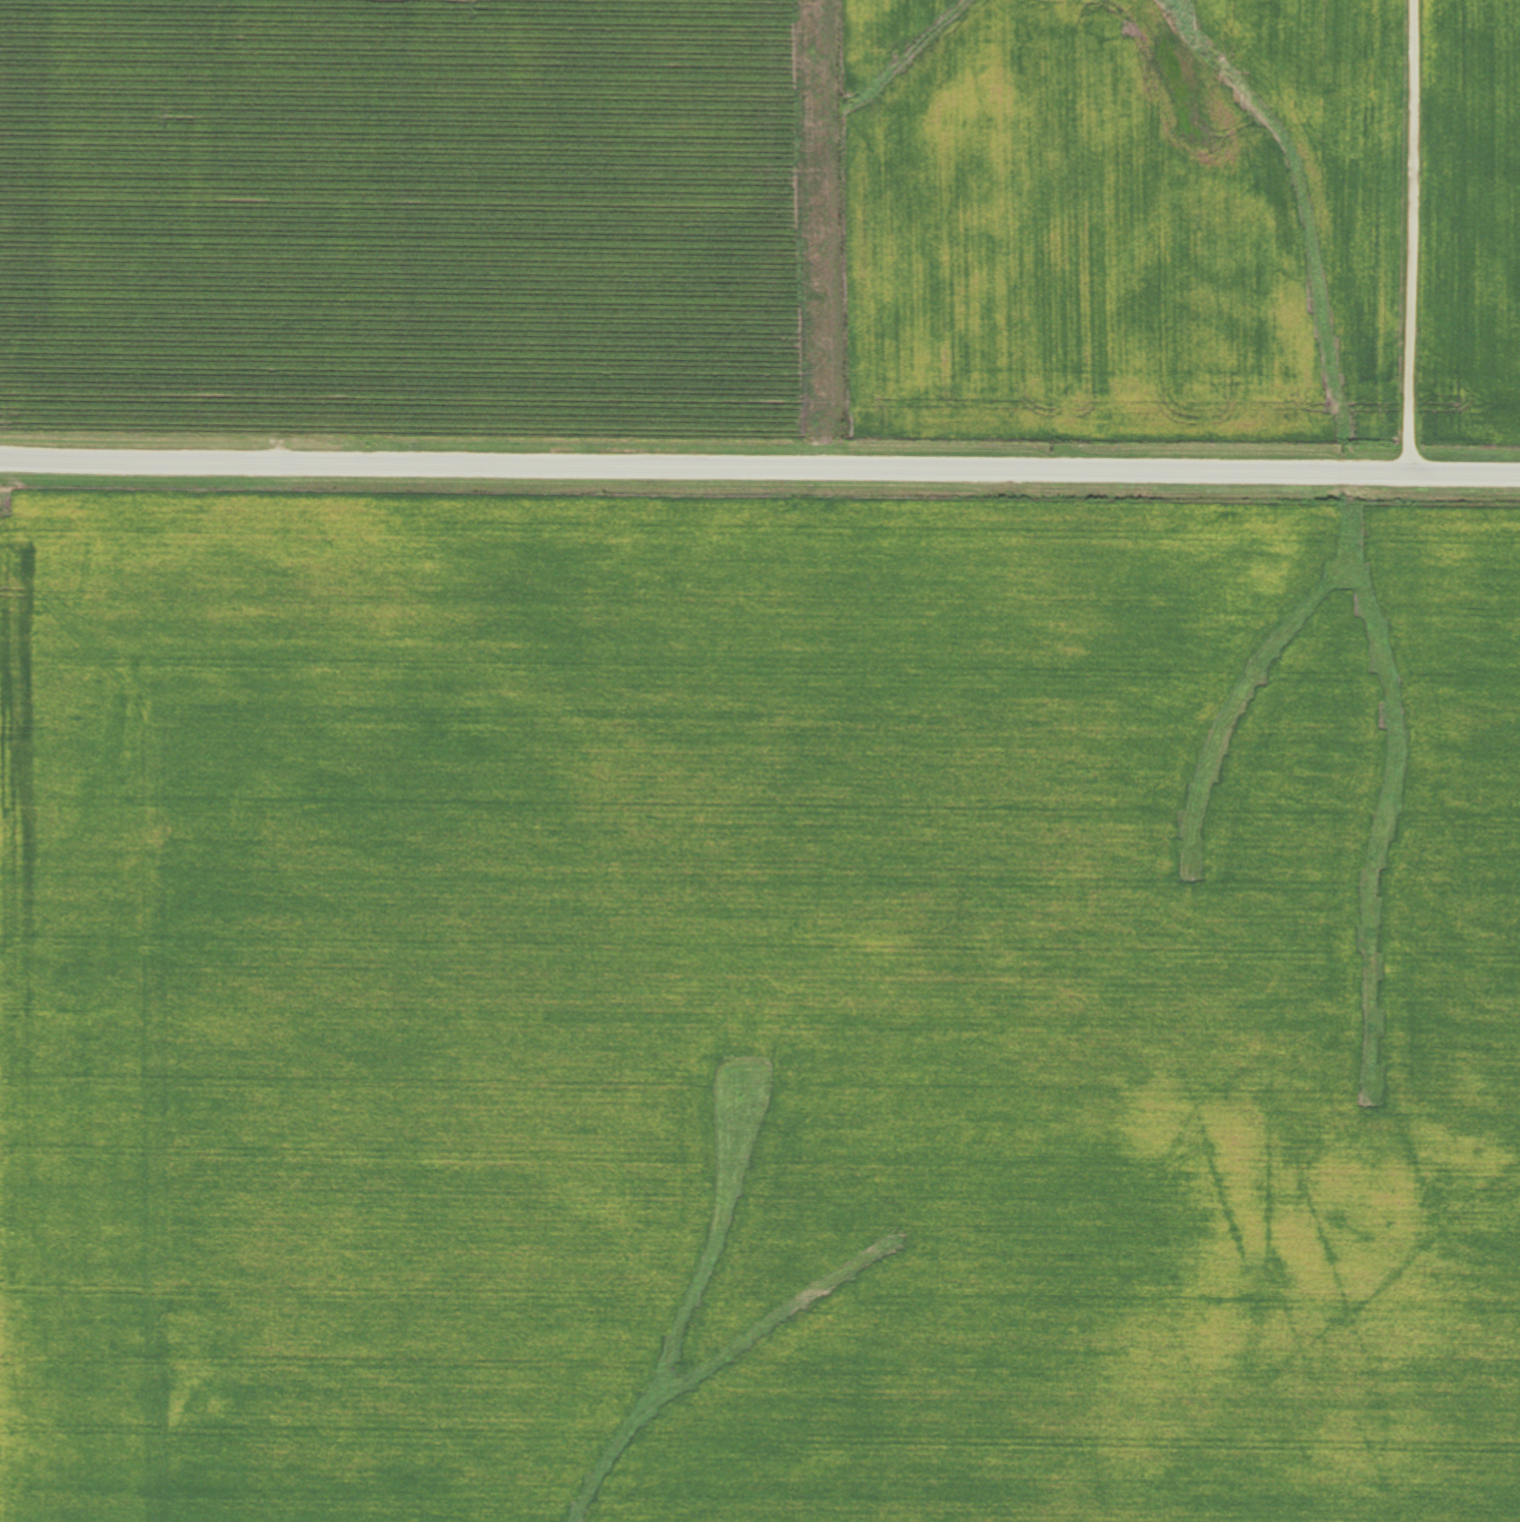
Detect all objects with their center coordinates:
road: (1431, 219)
road: (759, 450)

